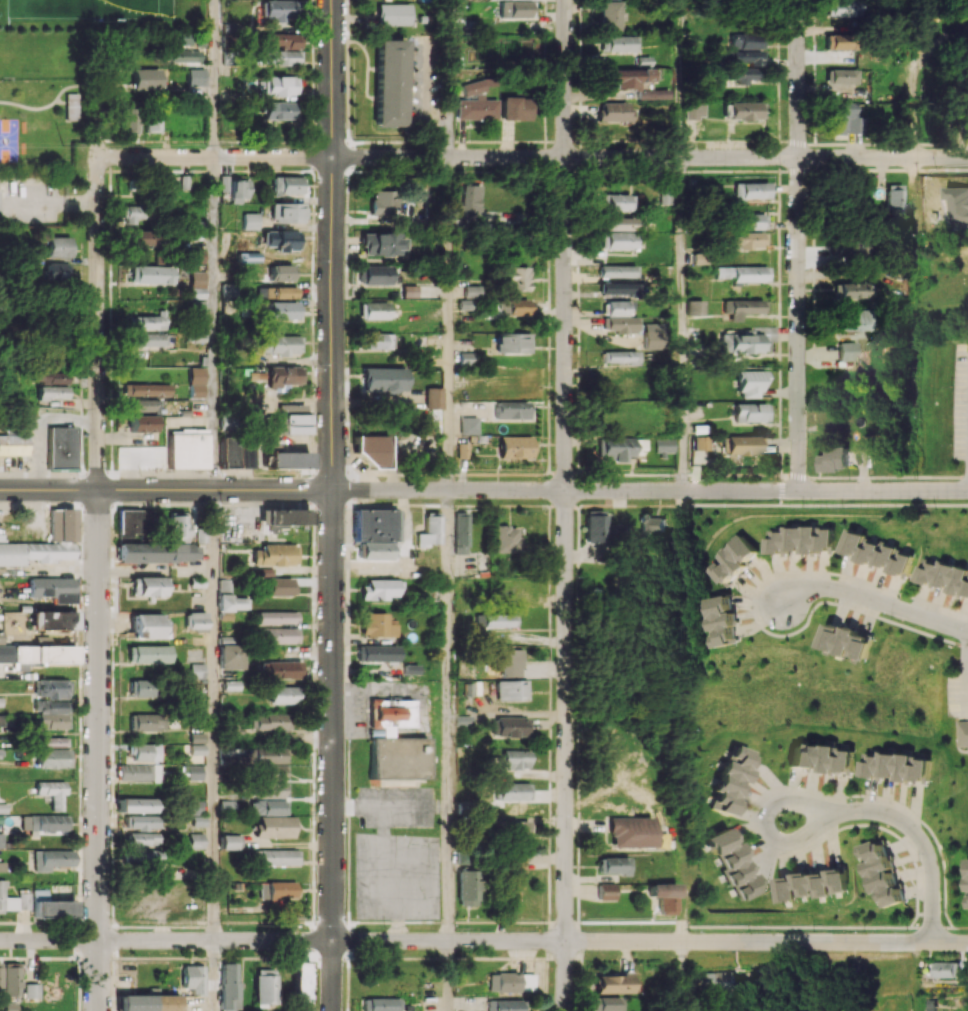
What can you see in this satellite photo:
building: (842, 8)
building: (516, 9)
building: (277, 10)
park: (128, 11)
building: (393, 14)
building: (609, 15)
building: (282, 40)
building: (745, 40)
building: (839, 41)
building: (618, 43)
building: (743, 57)
building: (282, 58)
building: (742, 74)
building: (841, 76)
building: (196, 77)
building: (625, 77)
road: (218, 78)
road: (449, 78)
road: (681, 78)
road: (799, 78)
building: (147, 79)
building: (389, 83)
building: (279, 86)
building: (473, 87)
building: (651, 94)
building: (71, 108)
building: (476, 108)
building: (514, 108)
building: (278, 110)
building: (695, 110)
building: (744, 110)
building: (614, 112)
building: (844, 119)
building: (128, 120)
building: (152, 122)
park: (9, 141)
road: (215, 156)
road: (565, 157)
road: (883, 157)
building: (185, 181)
building: (287, 185)
building: (239, 190)
building: (749, 191)
building: (895, 198)
building: (471, 199)
building: (383, 202)
building: (617, 202)
parking lot: (32, 203)
building: (286, 212)
building: (135, 214)
building: (249, 221)
building: (748, 221)
building: (619, 223)
building: (139, 237)
building: (281, 239)
building: (618, 240)
building: (745, 240)
road: (332, 244)
building: (382, 244)
building: (58, 246)
building: (196, 256)
building: (56, 267)
building: (618, 271)
building: (281, 272)
building: (743, 273)
building: (151, 275)
building: (377, 275)
road: (98, 276)
building: (514, 278)
building: (197, 284)
building: (619, 288)
building: (850, 290)
building: (409, 291)
building: (471, 291)
building: (276, 292)
building: (517, 306)
building: (694, 307)
building: (742, 308)
building: (278, 310)
building: (375, 310)
building: (619, 316)
building: (854, 320)
building: (150, 321)
road: (216, 323)
road: (450, 323)
road: (682, 323)
road: (798, 323)
building: (150, 339)
building: (376, 340)
building: (512, 343)
building: (741, 343)
building: (278, 344)
building: (846, 351)
building: (620, 357)
building: (465, 358)
building: (283, 375)
building: (52, 377)
building: (383, 379)
building: (196, 382)
building: (750, 383)
building: (147, 390)
building: (54, 392)
building: (431, 398)
parking lot: (960, 403)
building: (143, 405)
building: (511, 410)
building: (750, 412)
building: (287, 420)
building: (141, 423)
building: (468, 425)
building: (701, 443)
building: (13, 444)
building: (664, 445)
building: (742, 445)
building: (60, 447)
building: (514, 447)
building: (619, 447)
building: (187, 449)
building: (372, 450)
building: (235, 452)
building: (834, 458)
building: (287, 460)
road: (165, 489)
road: (565, 490)
road: (883, 490)
road: (565, 505)
building: (283, 518)
building: (131, 523)
building: (653, 523)
building: (62, 525)
building: (595, 526)
building: (178, 527)
building: (430, 530)
building: (461, 532)
building: (376, 533)
building: (506, 539)
building: (799, 539)
building: (157, 552)
building: (877, 552)
building: (275, 555)
building: (732, 559)
building: (945, 575)
building: (148, 586)
building: (279, 586)
building: (516, 586)
building: (51, 588)
building: (379, 589)
building: (229, 600)
road: (872, 600)
building: (277, 617)
building: (52, 619)
building: (195, 620)
building: (496, 620)
building: (720, 620)
building: (377, 625)
building: (150, 626)
building: (281, 635)
building: (227, 639)
building: (847, 641)
building: (376, 653)
building: (147, 654)
building: (35, 655)
building: (231, 656)
building: (508, 661)
building: (197, 670)
building: (280, 670)
building: (51, 688)
building: (139, 688)
building: (512, 690)
building: (280, 695)
building: (49, 714)
building: (389, 714)
road: (215, 715)
road: (451, 715)
building: (0, 720)
building: (146, 722)
building: (270, 725)
building: (510, 726)
building: (231, 728)
building: (963, 733)
building: (196, 737)
building: (51, 741)
building: (196, 749)
road: (98, 750)
road: (332, 750)
building: (145, 752)
building: (268, 755)
building: (822, 757)
building: (52, 758)
building: (396, 758)
building: (512, 760)
building: (899, 766)
building: (267, 771)
building: (139, 772)
building: (194, 772)
building: (730, 779)
building: (268, 790)
building: (513, 791)
building: (52, 793)
road: (391, 804)
building: (137, 805)
building: (193, 807)
building: (267, 807)
building: (2, 808)
building: (199, 820)
building: (44, 822)
building: (143, 822)
building: (273, 826)
road: (907, 826)
building: (512, 829)
road: (383, 830)
building: (631, 832)
building: (144, 838)
building: (1, 840)
building: (196, 841)
building: (230, 842)
building: (147, 856)
building: (462, 856)
building: (276, 857)
road: (413, 857)
building: (52, 859)
building: (733, 862)
building: (612, 865)
building: (2, 866)
building: (880, 872)
building: (510, 875)
building: (967, 875)
building: (812, 884)
building: (467, 888)
building: (276, 891)
building: (605, 891)
building: (662, 897)
building: (6, 900)
building: (24, 900)
building: (51, 906)
road: (483, 941)
building: (946, 969)
road: (216, 975)
road: (450, 976)
road: (681, 976)
building: (193, 978)
building: (10, 979)
building: (299, 982)
building: (511, 982)
building: (612, 983)
building: (265, 986)
building: (229, 987)
building: (31, 990)
building: (148, 1002)
building: (964, 1003)
building: (379, 1004)
building: (606, 1004)
building: (504, 1005)

